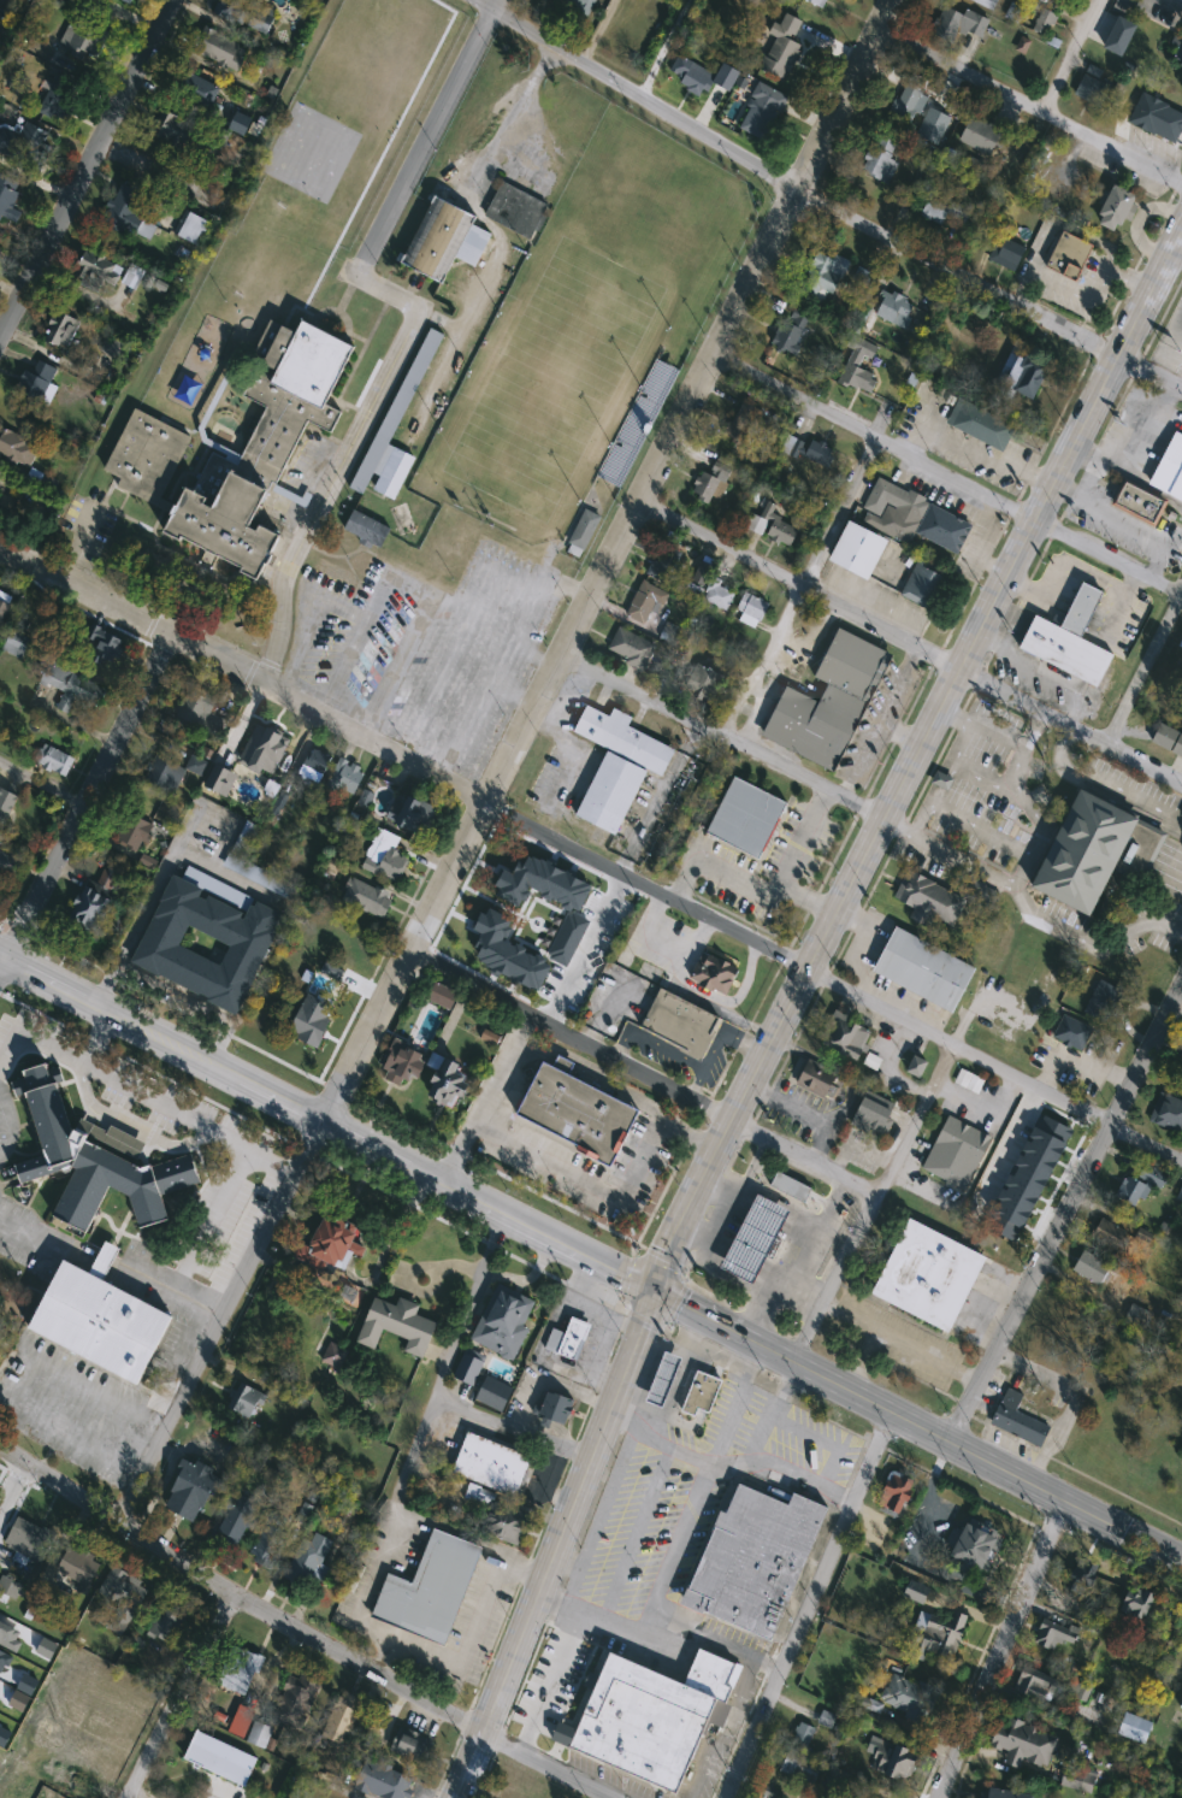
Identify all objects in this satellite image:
building: (817, 2)
building: (986, 2)
building: (578, 6)
building: (1124, 7)
building: (1015, 12)
building: (247, 13)
building: (958, 24)
building: (1044, 24)
building: (1118, 34)
building: (78, 39)
building: (1177, 46)
road: (663, 47)
building: (781, 47)
building: (221, 51)
road: (1071, 55)
building: (702, 73)
building: (1092, 87)
building: (910, 99)
building: (55, 100)
road: (1029, 101)
building: (762, 112)
building: (1154, 114)
building: (189, 118)
building: (932, 124)
building: (980, 136)
building: (20, 142)
park: (311, 151)
building: (880, 159)
road: (88, 165)
building: (11, 195)
building: (1115, 205)
road: (826, 206)
building: (516, 207)
building: (944, 210)
building: (129, 211)
road: (1136, 220)
building: (731, 224)
building: (193, 228)
road: (500, 234)
building: (444, 238)
building: (2, 249)
building: (716, 252)
building: (1069, 253)
building: (1006, 254)
building: (96, 272)
building: (132, 277)
building: (823, 278)
building: (702, 281)
road: (1022, 287)
road: (1095, 295)
building: (890, 306)
road: (439, 317)
road: (412, 325)
building: (63, 331)
building: (791, 331)
building: (853, 371)
building: (1023, 376)
park: (554, 381)
building: (406, 387)
building: (37, 388)
road: (209, 405)
building: (980, 422)
road: (179, 423)
building: (741, 425)
building: (17, 447)
road: (974, 448)
building: (808, 452)
building: (147, 455)
building: (617, 460)
building: (1169, 470)
road: (947, 471)
building: (0, 476)
parking lot: (302, 478)
building: (710, 483)
building: (1137, 502)
building: (894, 507)
parking lot: (88, 526)
building: (366, 526)
building: (942, 526)
building: (776, 529)
building: (581, 530)
road: (77, 542)
building: (856, 547)
building: (664, 564)
building: (923, 580)
road: (808, 590)
road: (433, 591)
building: (719, 595)
building: (646, 601)
building: (750, 607)
building: (1080, 609)
building: (2, 611)
road: (354, 642)
building: (17, 644)
building: (105, 645)
road: (909, 645)
parking lot: (429, 647)
building: (630, 649)
building: (1065, 652)
road: (403, 654)
road: (1143, 666)
road: (1035, 670)
building: (703, 680)
road: (898, 685)
building: (71, 686)
building: (828, 702)
building: (194, 708)
road: (475, 712)
road: (953, 713)
road: (1033, 729)
road: (995, 733)
building: (622, 736)
road: (719, 736)
road: (870, 739)
building: (51, 759)
road: (503, 761)
building: (314, 766)
building: (164, 774)
building: (344, 778)
road: (39, 779)
road: (1104, 783)
parking lot: (989, 788)
building: (608, 790)
road: (656, 796)
road: (78, 797)
road: (477, 798)
building: (5, 807)
building: (410, 814)
building: (746, 819)
building: (246, 837)
building: (1093, 849)
road: (1017, 850)
building: (384, 855)
road: (791, 861)
building: (7, 863)
road: (1022, 869)
road: (721, 871)
road: (225, 878)
building: (540, 882)
building: (366, 898)
building: (927, 901)
building: (94, 903)
road: (144, 903)
road: (1026, 903)
building: (241, 933)
building: (567, 937)
road: (584, 947)
building: (507, 950)
building: (923, 969)
building: (655, 973)
building: (714, 974)
building: (441, 995)
building: (1101, 1000)
road: (791, 1002)
road: (193, 1003)
building: (309, 1020)
building: (679, 1025)
building: (1071, 1033)
road: (94, 1037)
building: (844, 1037)
building: (401, 1065)
building: (915, 1067)
road: (644, 1074)
building: (817, 1080)
building: (443, 1083)
road: (141, 1092)
road: (487, 1101)
road: (1068, 1104)
building: (573, 1112)
building: (1169, 1114)
building: (873, 1116)
road: (130, 1124)
road: (324, 1125)
building: (956, 1150)
road: (646, 1151)
building: (89, 1160)
building: (798, 1185)
building: (1140, 1185)
road: (721, 1197)
road: (876, 1204)
road: (1062, 1213)
road: (762, 1216)
road: (209, 1218)
road: (794, 1232)
building: (1107, 1233)
road: (19, 1234)
road: (703, 1239)
building: (752, 1239)
building: (327, 1240)
road: (797, 1260)
road: (743, 1261)
building: (1091, 1267)
building: (927, 1273)
road: (792, 1286)
road: (173, 1289)
traffic signals: (650, 1290)
building: (100, 1319)
building: (504, 1324)
building: (395, 1326)
building: (567, 1339)
road: (902, 1342)
road: (690, 1354)
building: (467, 1369)
road: (14, 1372)
building: (661, 1380)
road: (439, 1385)
building: (699, 1395)
road: (1074, 1396)
building: (244, 1401)
road: (770, 1409)
building: (554, 1410)
building: (1018, 1420)
road: (662, 1421)
road: (915, 1426)
parking lot: (774, 1432)
road: (684, 1449)
road: (413, 1455)
building: (491, 1466)
road: (784, 1473)
road: (13, 1490)
building: (189, 1491)
building: (894, 1492)
building: (237, 1519)
building: (503, 1523)
road: (686, 1523)
road: (391, 1528)
parking lot: (645, 1529)
building: (28, 1535)
building: (268, 1545)
building: (971, 1548)
building: (751, 1560)
building: (308, 1562)
building: (78, 1564)
building: (1088, 1584)
building: (8, 1586)
building: (430, 1591)
building: (122, 1594)
road: (805, 1604)
building: (1135, 1605)
building: (166, 1619)
road: (301, 1629)
building: (1056, 1635)
building: (936, 1637)
road: (717, 1639)
road: (467, 1641)
road: (998, 1649)
road: (555, 1661)
building: (241, 1670)
building: (1035, 1685)
road: (182, 1696)
building: (909, 1697)
building: (296, 1699)
building: (1181, 1700)
building: (1181, 1708)
building: (652, 1719)
building: (339, 1721)
building: (1134, 1729)
building: (259, 1735)
building: (1022, 1744)
building: (408, 1745)
building: (39, 1756)
building: (219, 1758)
building: (891, 1761)
building: (800, 1768)
road: (296, 1781)
building: (382, 1782)
road: (335, 1784)
building: (1001, 1794)
road: (131, 1797)

